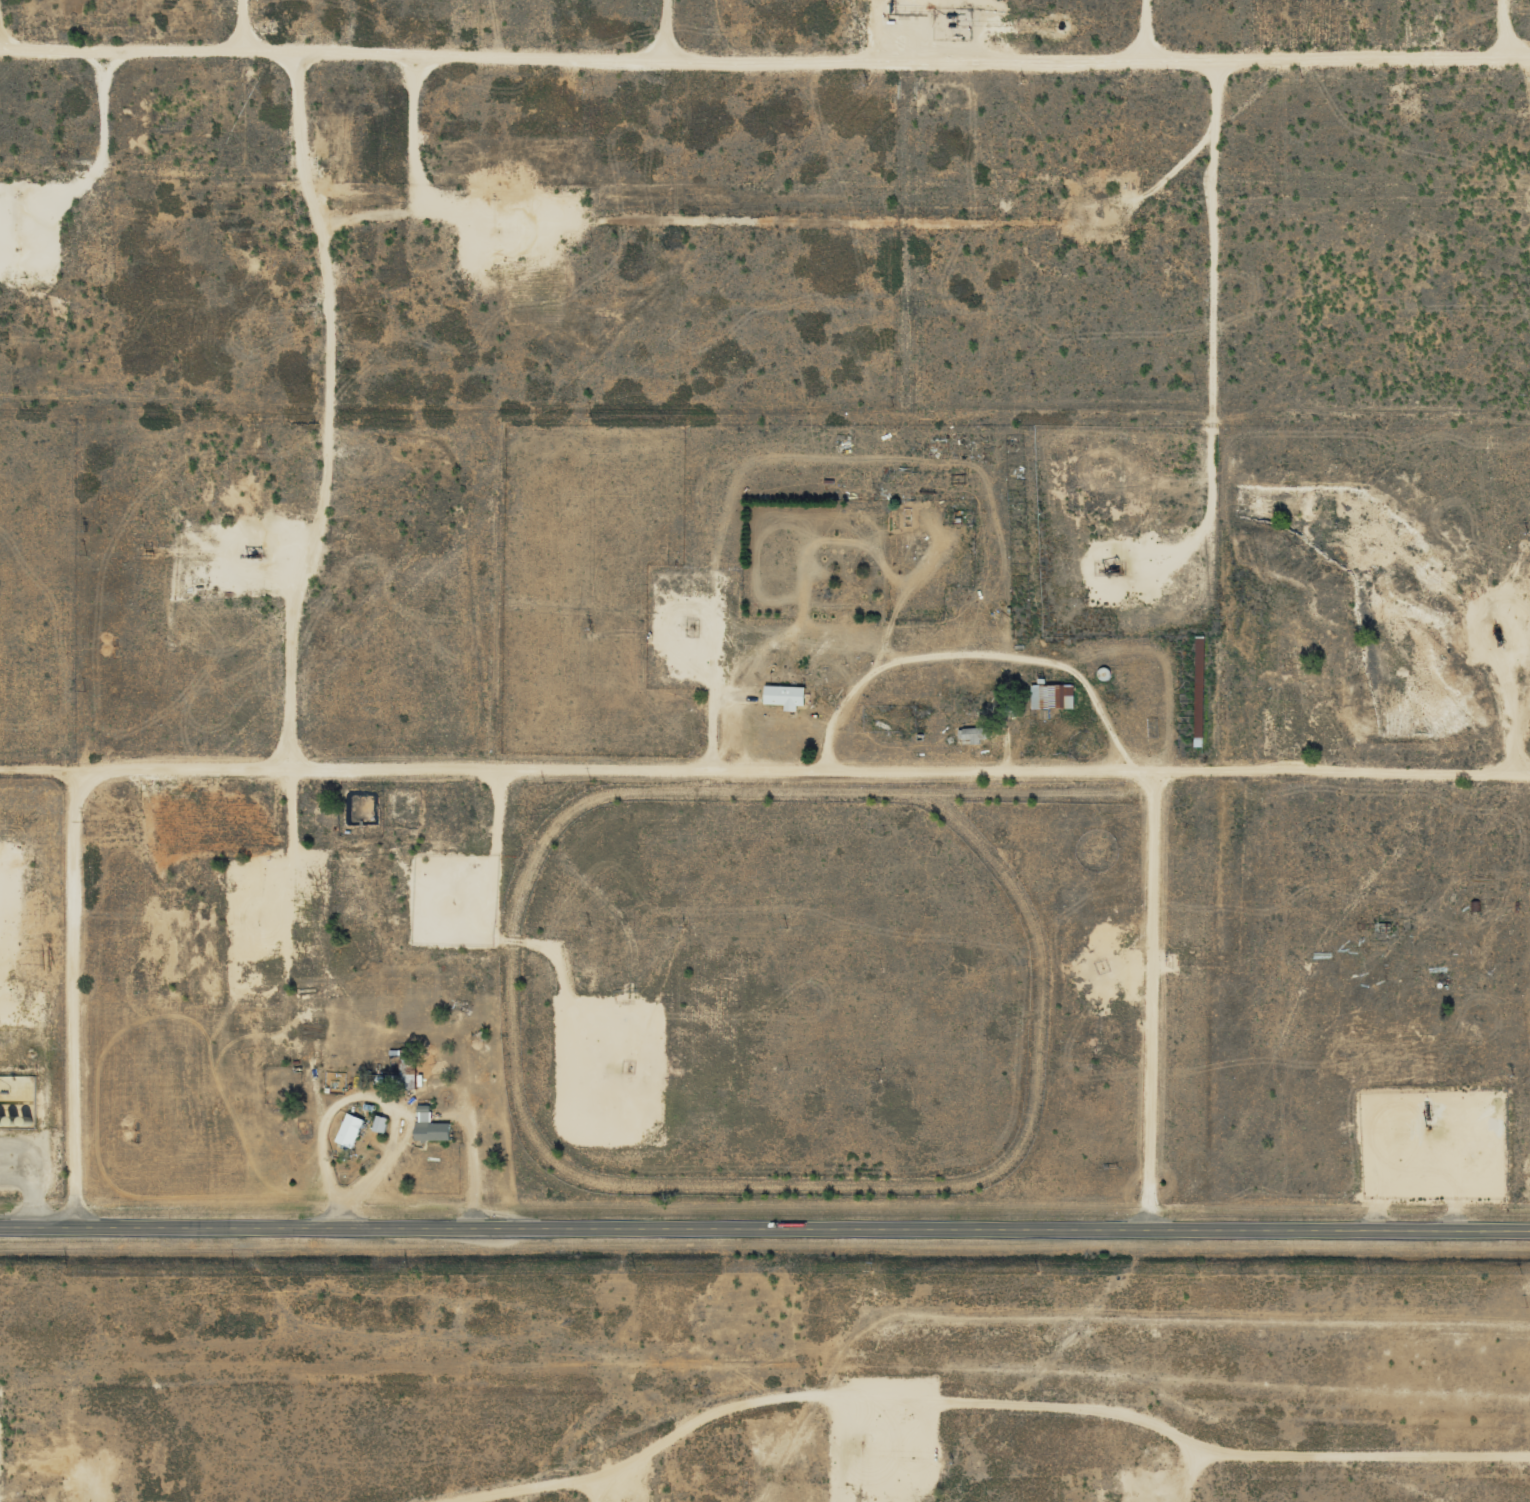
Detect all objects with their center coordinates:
road: (1144, 23)
road: (764, 47)
road: (1213, 315)
road: (971, 658)
building: (784, 696)
building: (1052, 696)
road: (34, 771)
road: (835, 772)
road: (1341, 776)
road: (69, 998)
road: (376, 1100)
building: (429, 1125)
building: (349, 1130)
road: (471, 1176)
road: (765, 1225)
road: (1046, 1407)
road: (502, 1472)
road: (1171, 1472)

